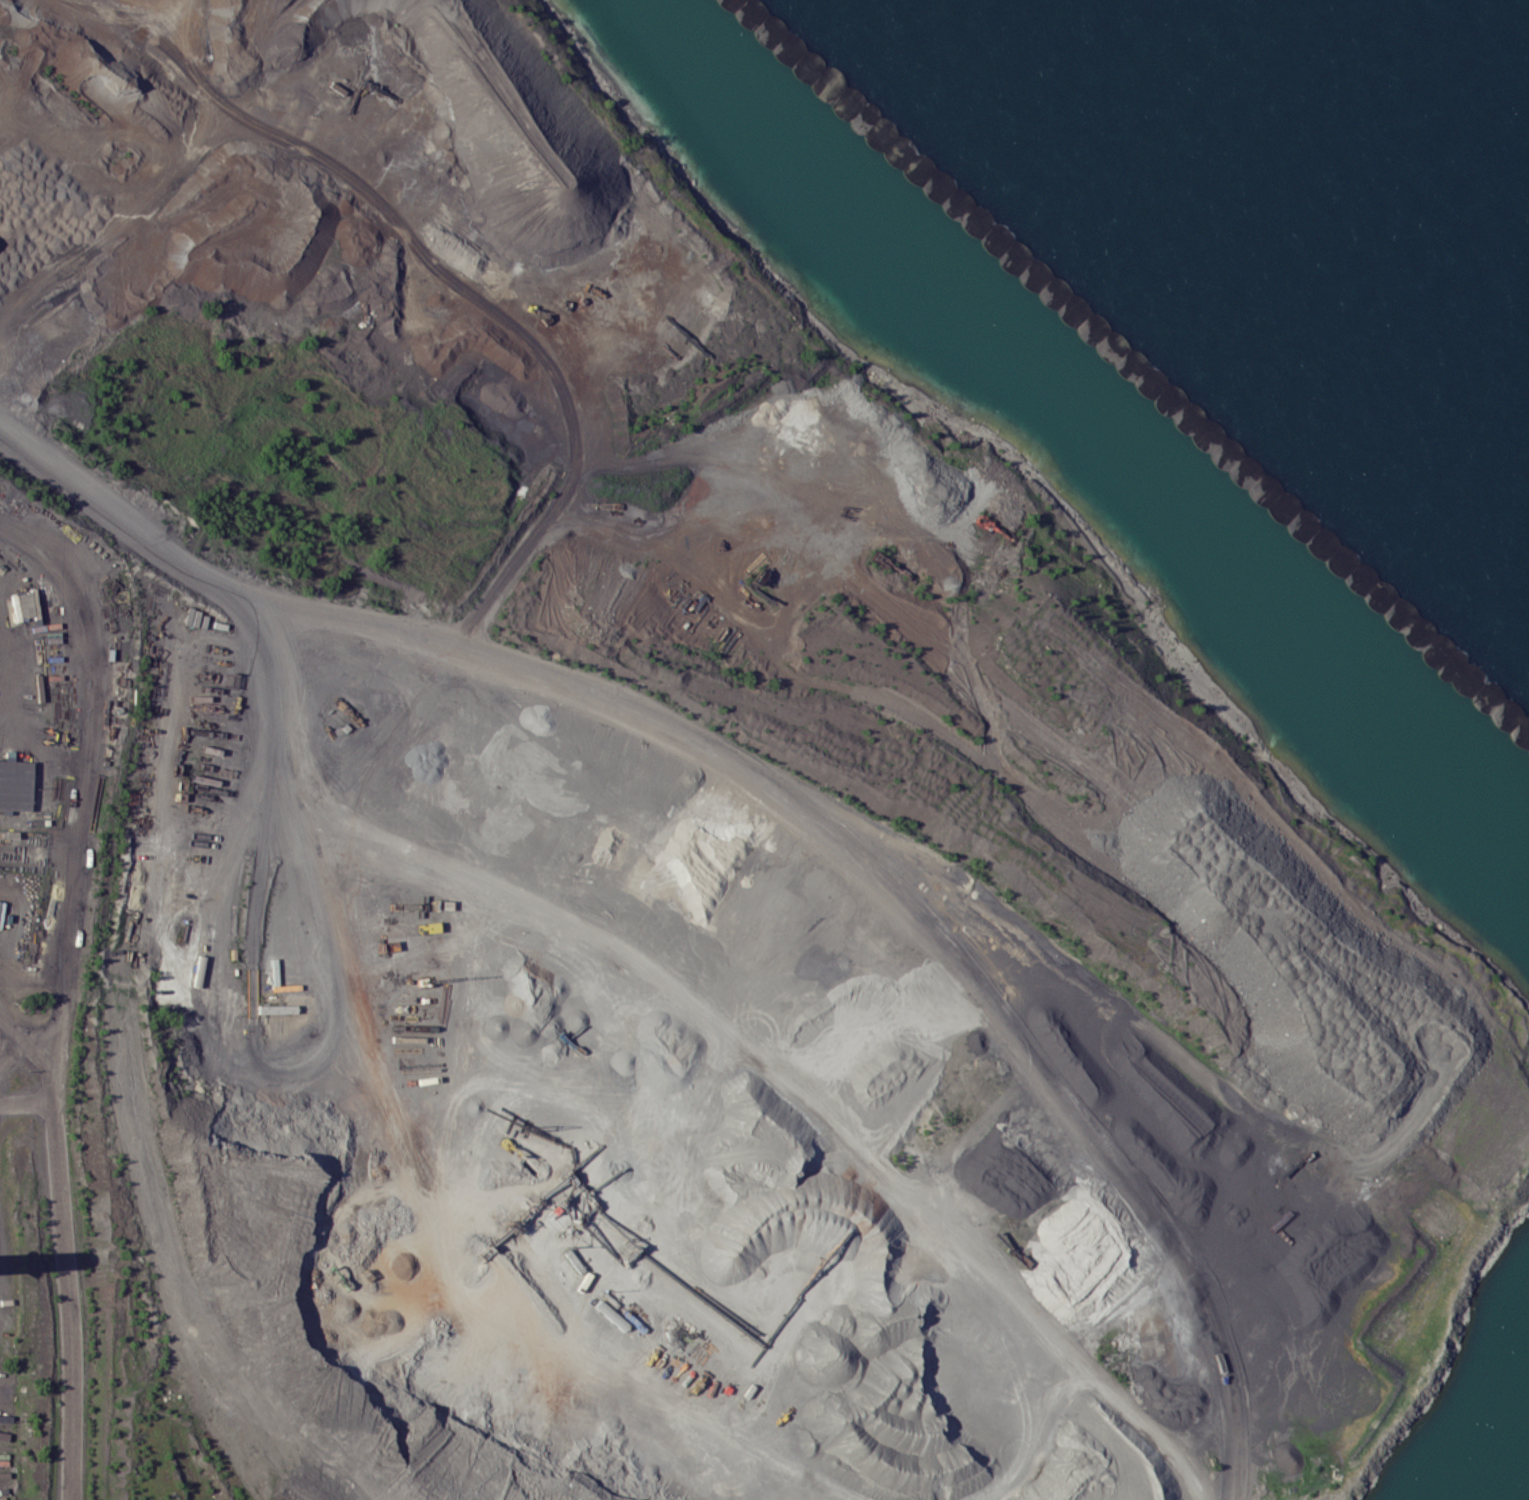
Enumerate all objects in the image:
road: (418, 283)
road: (208, 568)
road: (719, 763)
road: (86, 782)
building: (13, 785)
road: (37, 808)
road: (111, 944)
building: (266, 1009)
road: (11, 1021)
road: (63, 1246)

